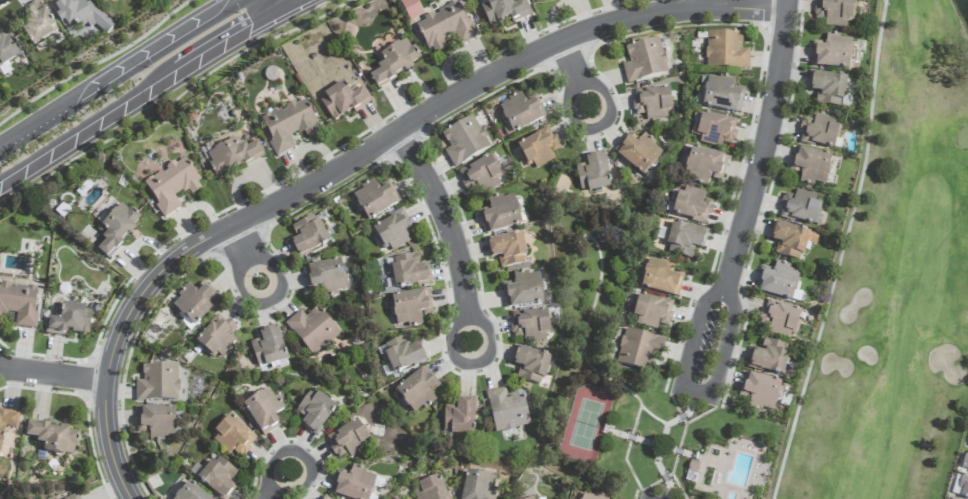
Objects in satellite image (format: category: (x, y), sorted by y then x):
building: (537, 0)
road: (274, 5)
road: (288, 5)
building: (502, 11)
building: (834, 12)
building: (80, 15)
building: (37, 23)
building: (445, 27)
road: (226, 39)
building: (725, 51)
building: (7, 53)
building: (831, 53)
road: (149, 60)
building: (644, 60)
building: (395, 62)
road: (573, 69)
building: (828, 89)
building: (722, 94)
building: (342, 101)
road: (603, 101)
building: (652, 103)
building: (521, 112)
road: (574, 114)
building: (288, 125)
road: (88, 126)
building: (716, 130)
building: (819, 131)
road: (26, 137)
road: (103, 141)
building: (464, 141)
building: (538, 148)
building: (638, 153)
building: (232, 156)
road: (354, 163)
building: (811, 165)
building: (704, 166)
building: (593, 173)
building: (481, 174)
building: (172, 185)
building: (375, 198)
road: (752, 200)
building: (692, 205)
building: (800, 207)
building: (500, 214)
road: (450, 225)
building: (117, 229)
building: (394, 230)
building: (308, 236)
building: (684, 239)
building: (792, 241)
road: (243, 248)
building: (508, 250)
road: (841, 252)
building: (409, 271)
road: (275, 272)
building: (326, 277)
building: (661, 277)
building: (778, 281)
park: (895, 283)
road: (245, 290)
building: (523, 290)
building: (195, 302)
building: (19, 303)
building: (411, 308)
building: (652, 310)
building: (780, 319)
building: (70, 321)
building: (530, 325)
building: (312, 330)
building: (216, 337)
road: (487, 341)
road: (455, 342)
building: (268, 348)
building: (639, 350)
building: (402, 355)
building: (770, 357)
building: (531, 365)
road: (53, 375)
park: (629, 380)
building: (158, 383)
building: (417, 390)
building: (760, 391)
building: (507, 410)
building: (264, 411)
building: (314, 411)
building: (459, 418)
building: (8, 422)
building: (156, 422)
park: (585, 424)
building: (233, 435)
building: (53, 437)
building: (348, 440)
road: (275, 462)
building: (965, 464)
building: (218, 477)
road: (301, 482)
building: (352, 484)
building: (478, 486)
building: (431, 489)
road: (272, 492)
building: (190, 493)
building: (594, 496)
building: (72, 497)
building: (322, 498)
building: (531, 498)

